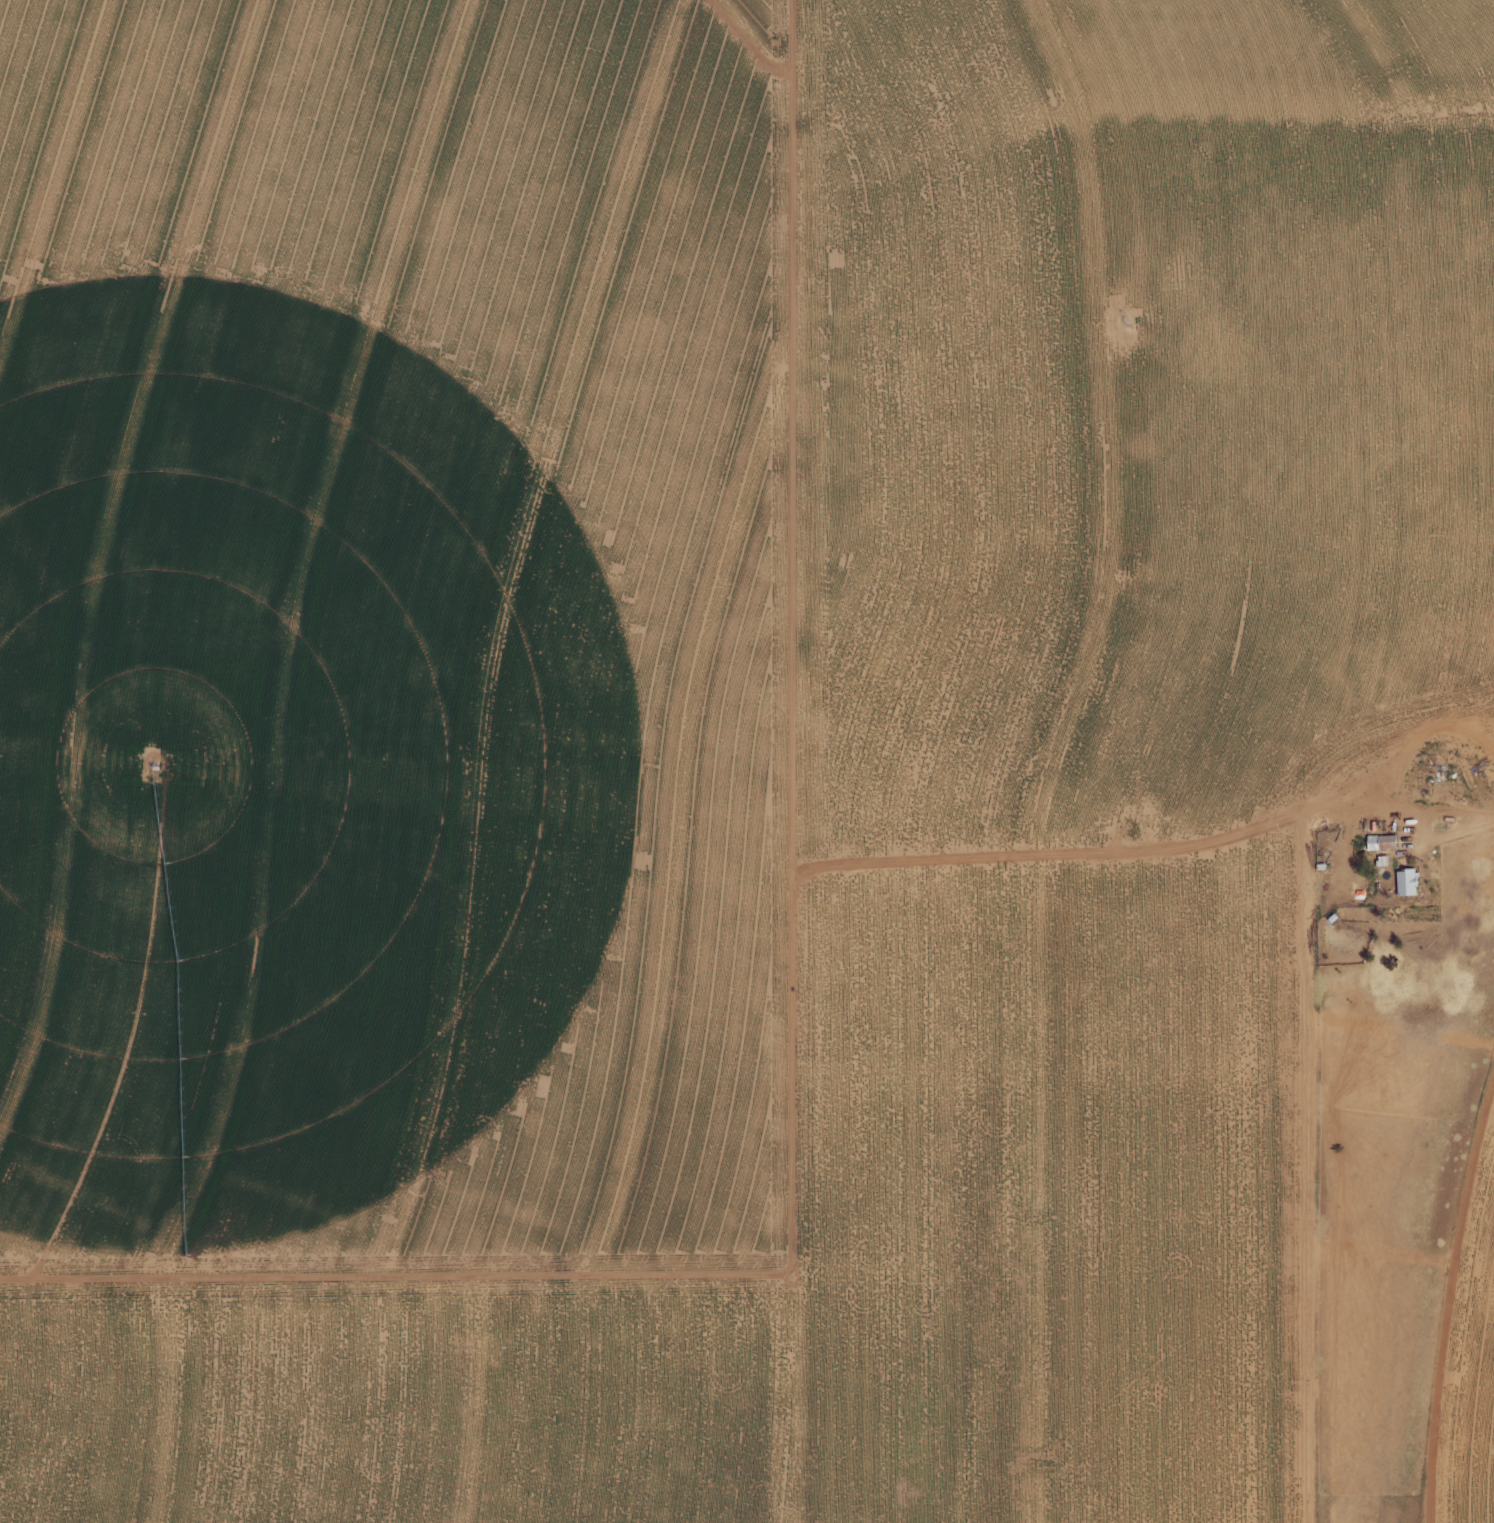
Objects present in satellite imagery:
road: (1449, 843)
building: (1405, 881)

